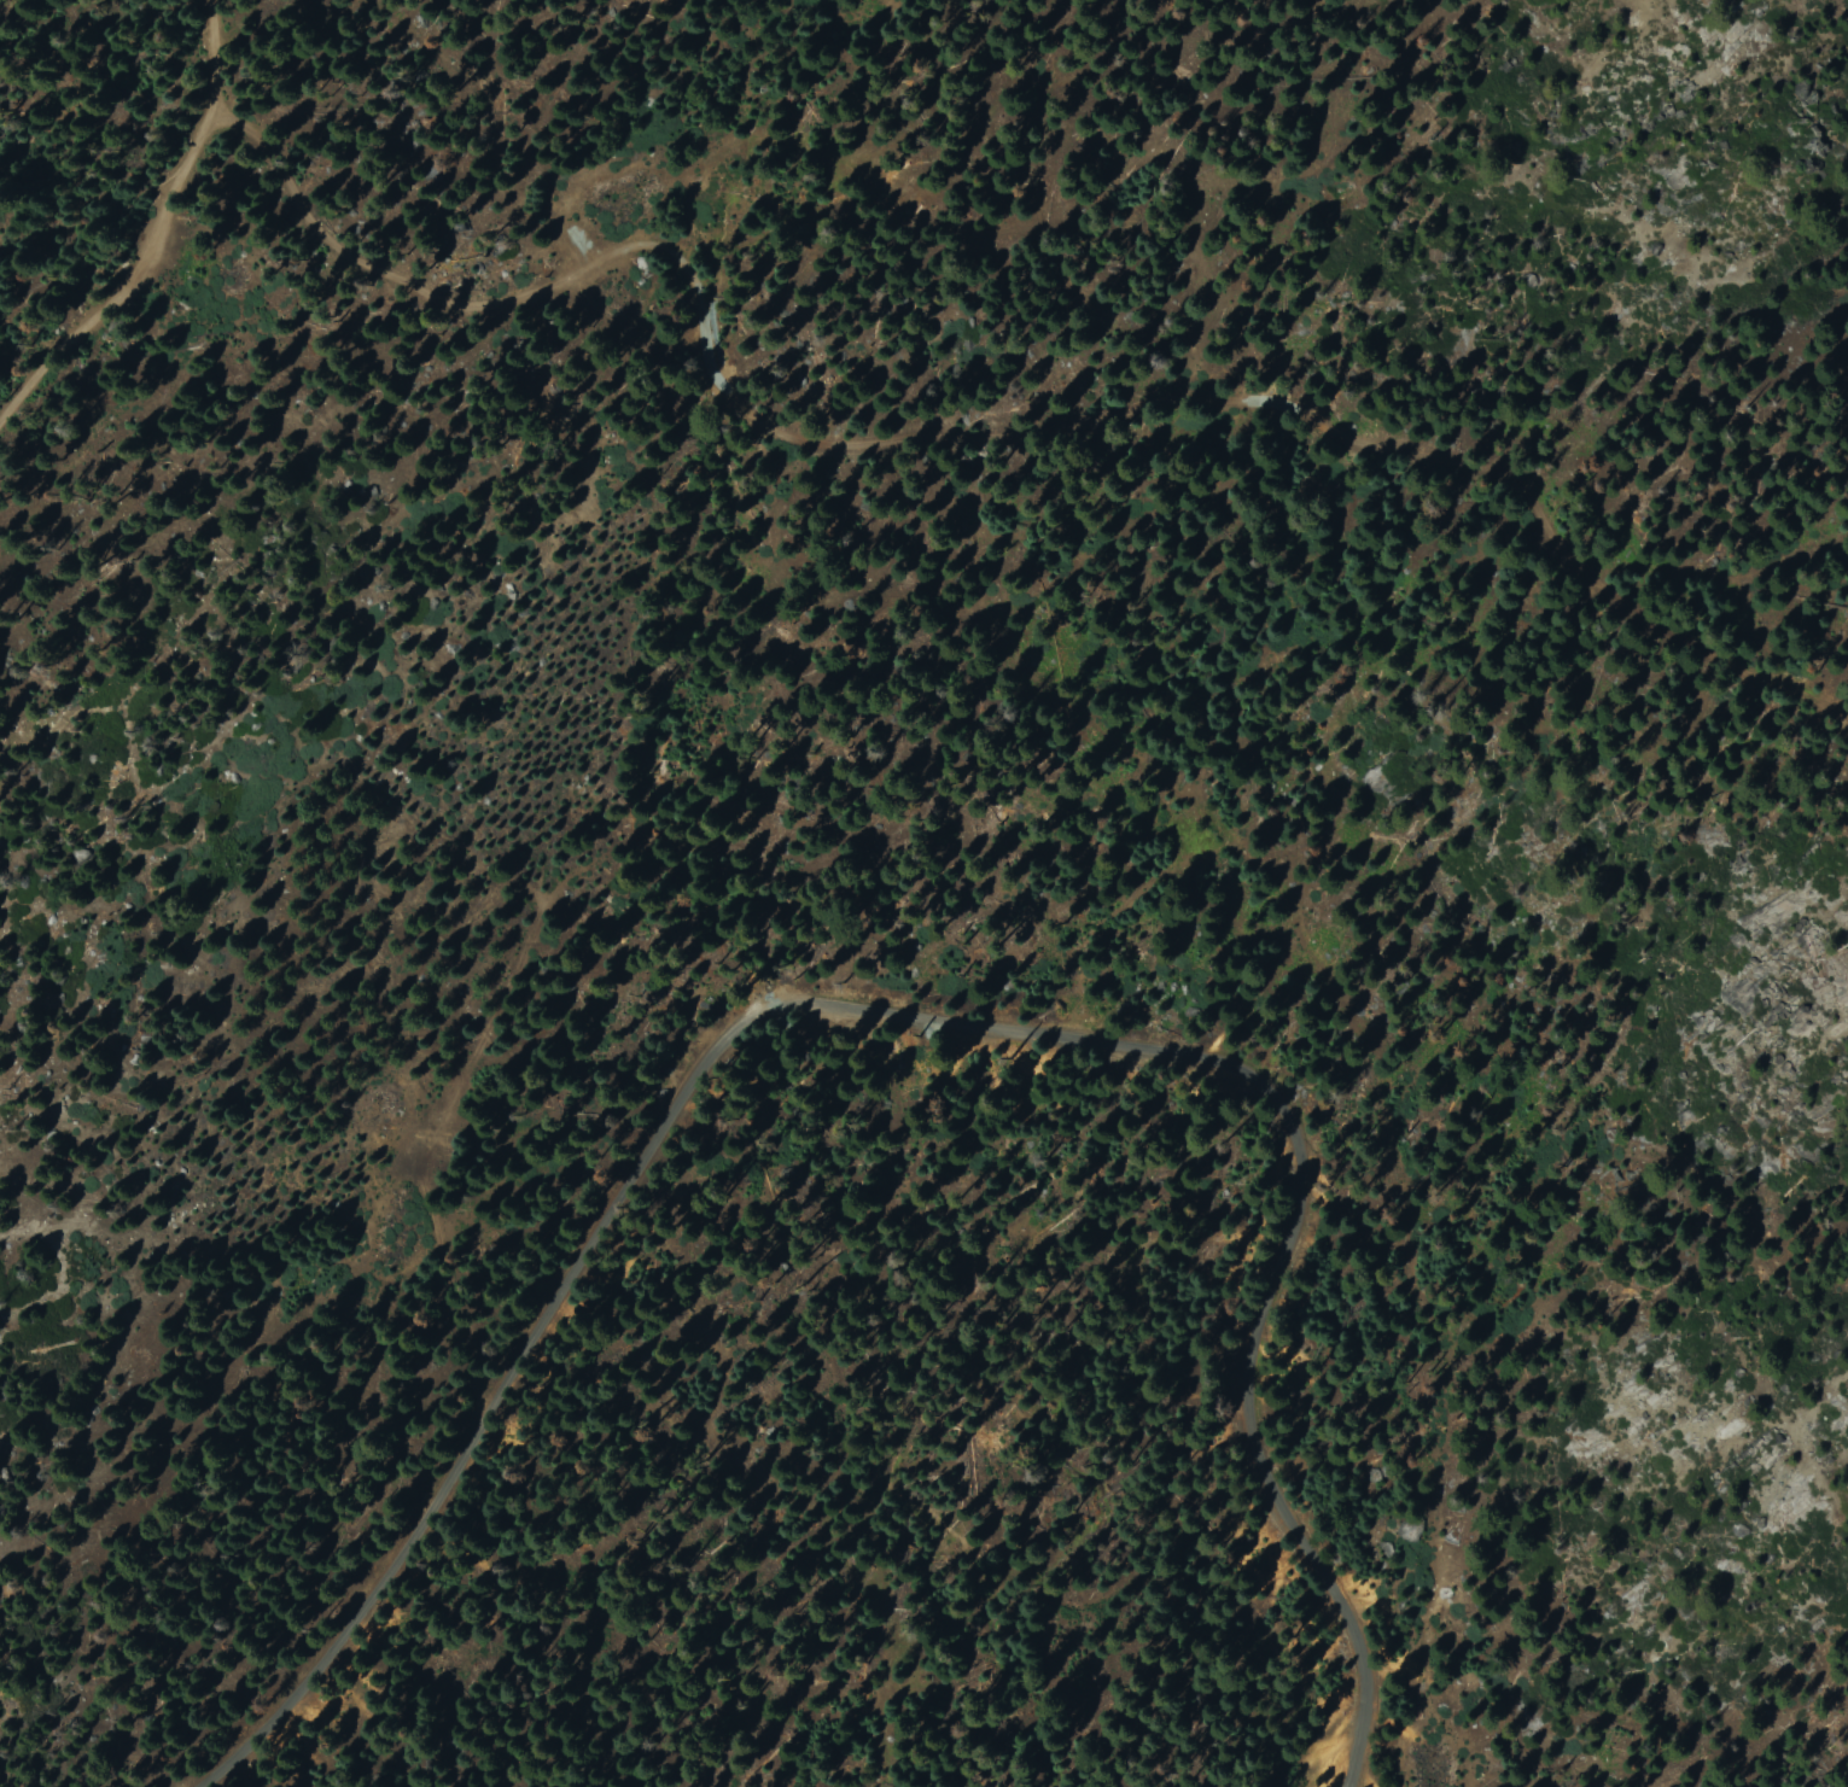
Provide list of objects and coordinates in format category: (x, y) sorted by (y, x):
road: (174, 263)
road: (908, 1022)

